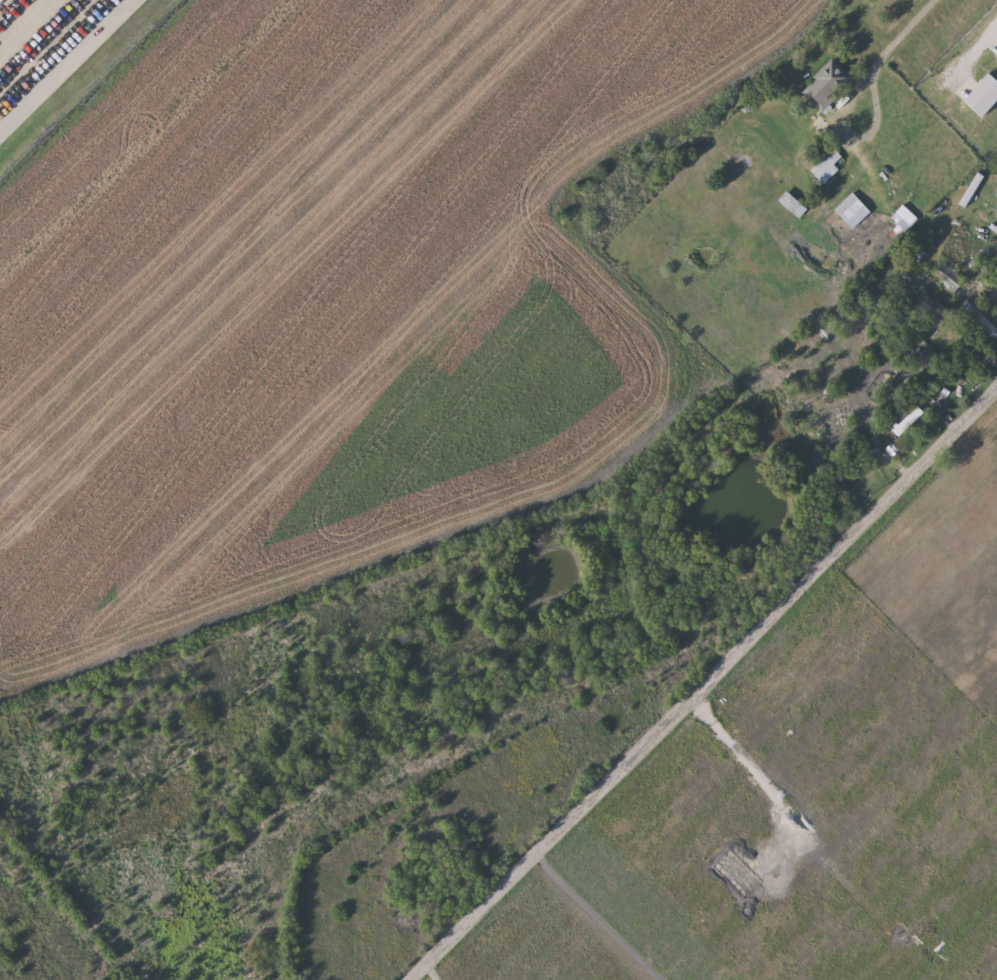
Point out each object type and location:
road: (900, 36)
road: (980, 43)
road: (63, 63)
building: (827, 85)
building: (984, 96)
road: (855, 134)
road: (864, 165)
building: (826, 166)
building: (971, 189)
building: (792, 204)
building: (852, 210)
building: (904, 219)
road: (982, 241)
building: (950, 278)
road: (892, 443)
road: (703, 684)

